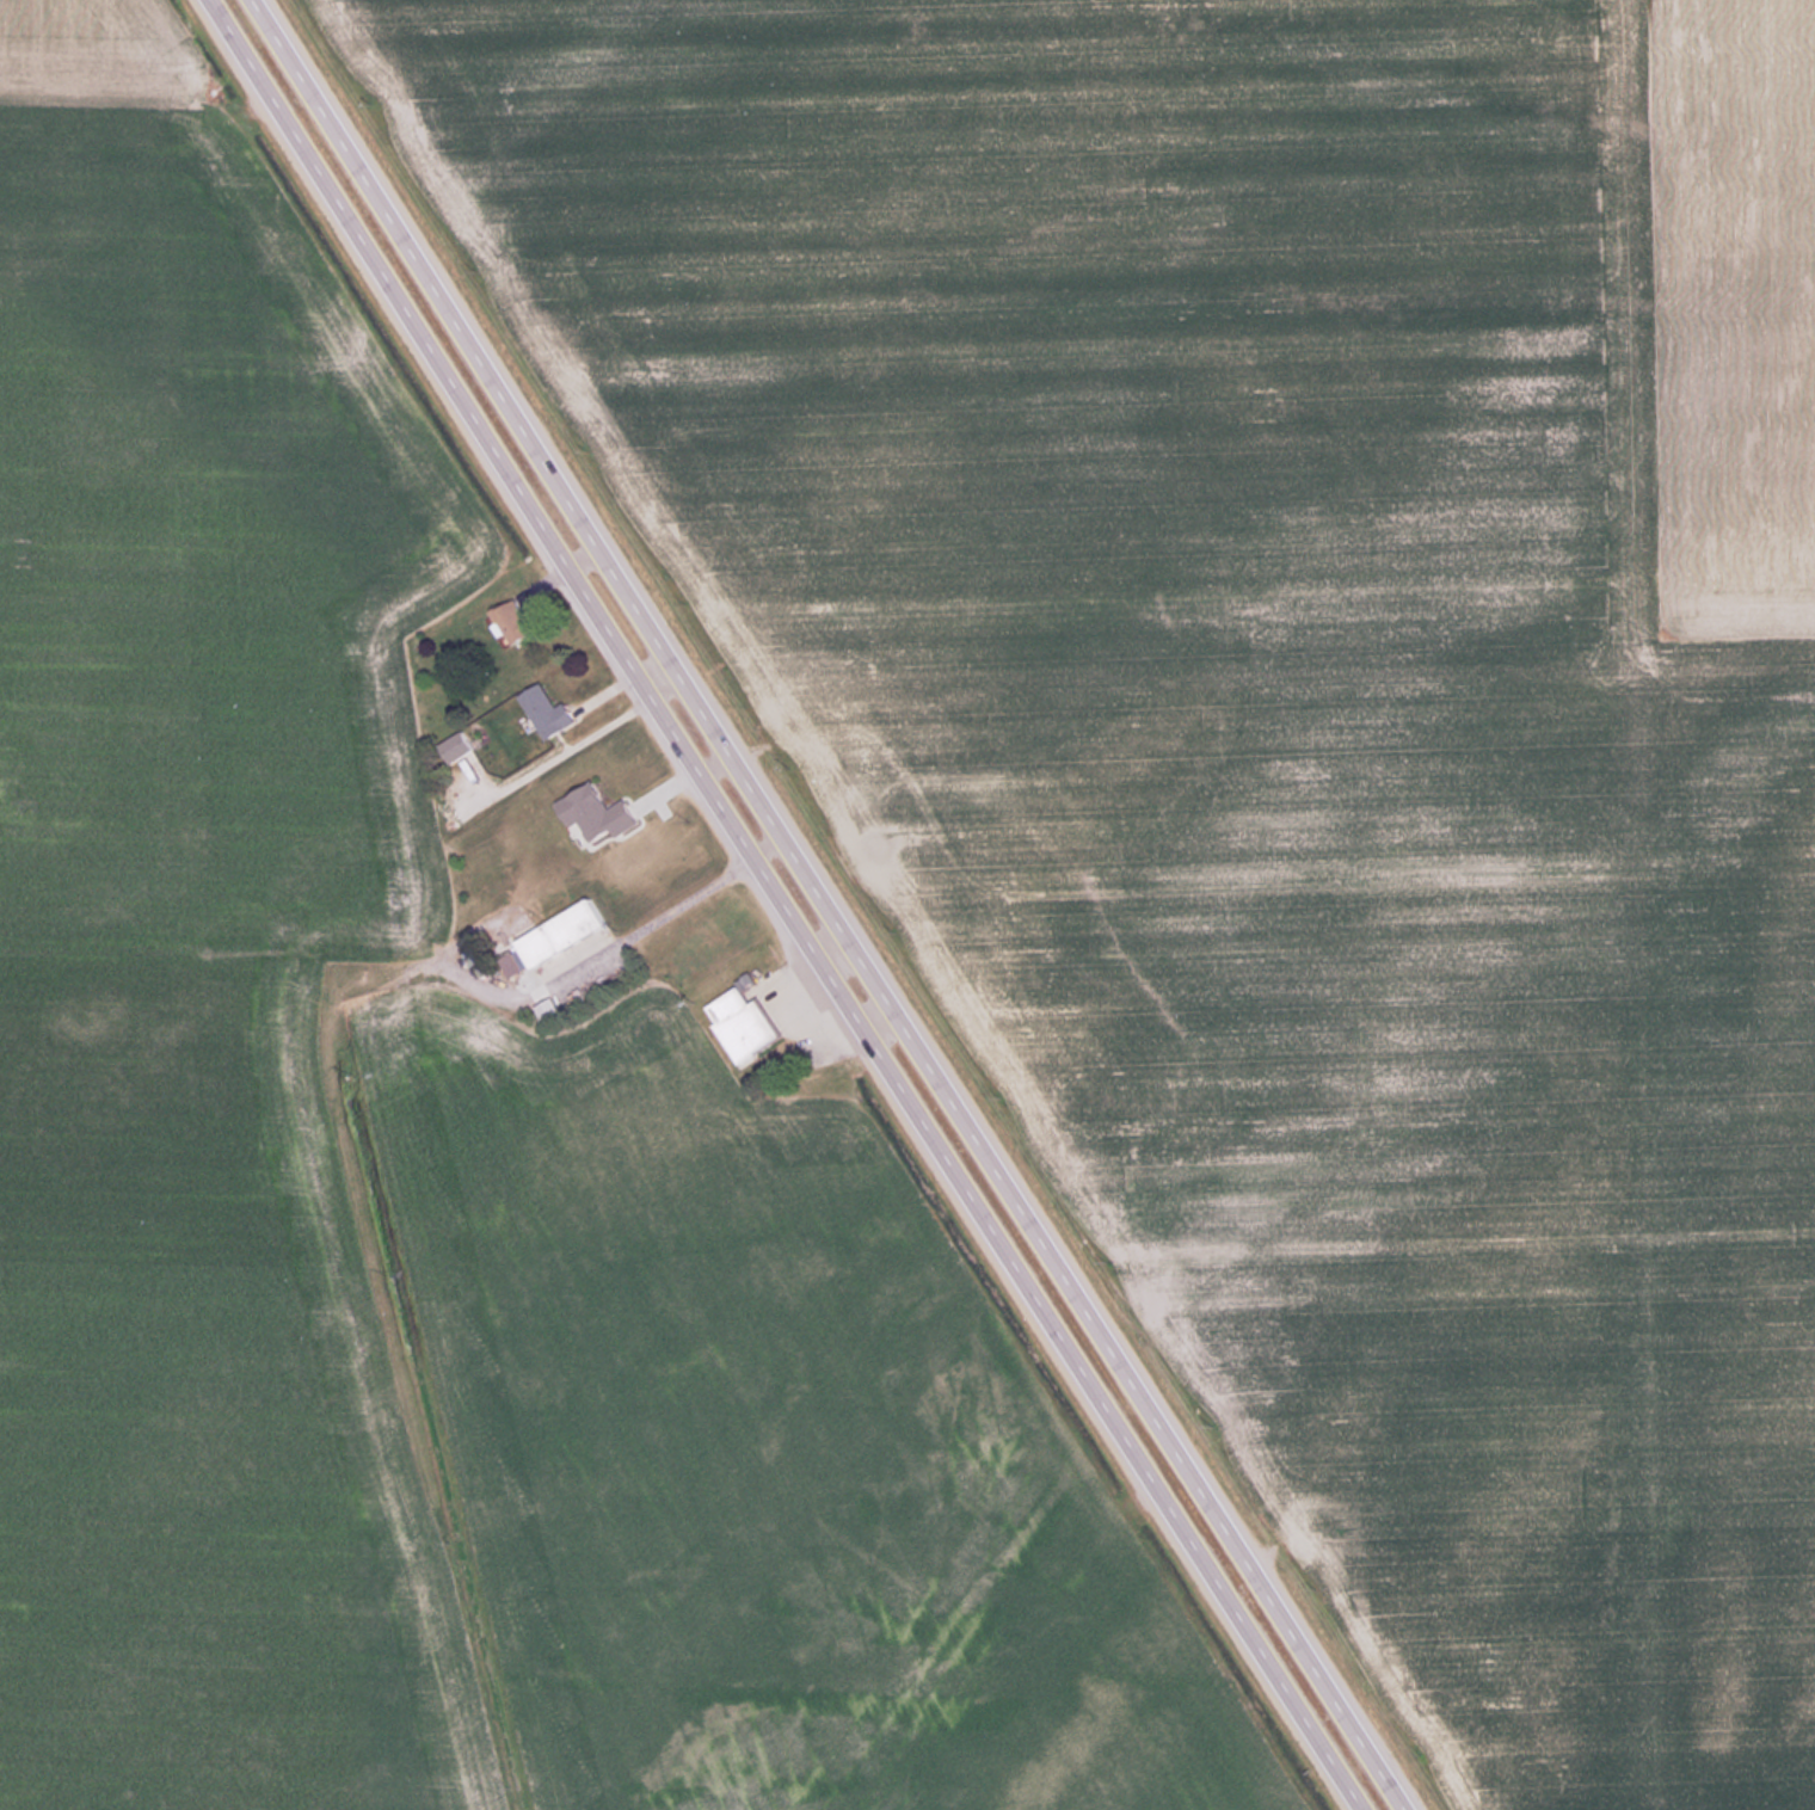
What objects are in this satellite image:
building: (512, 622)
building: (547, 712)
building: (455, 746)
building: (596, 813)
road: (786, 905)
road: (837, 905)
building: (553, 937)
building: (743, 1022)

